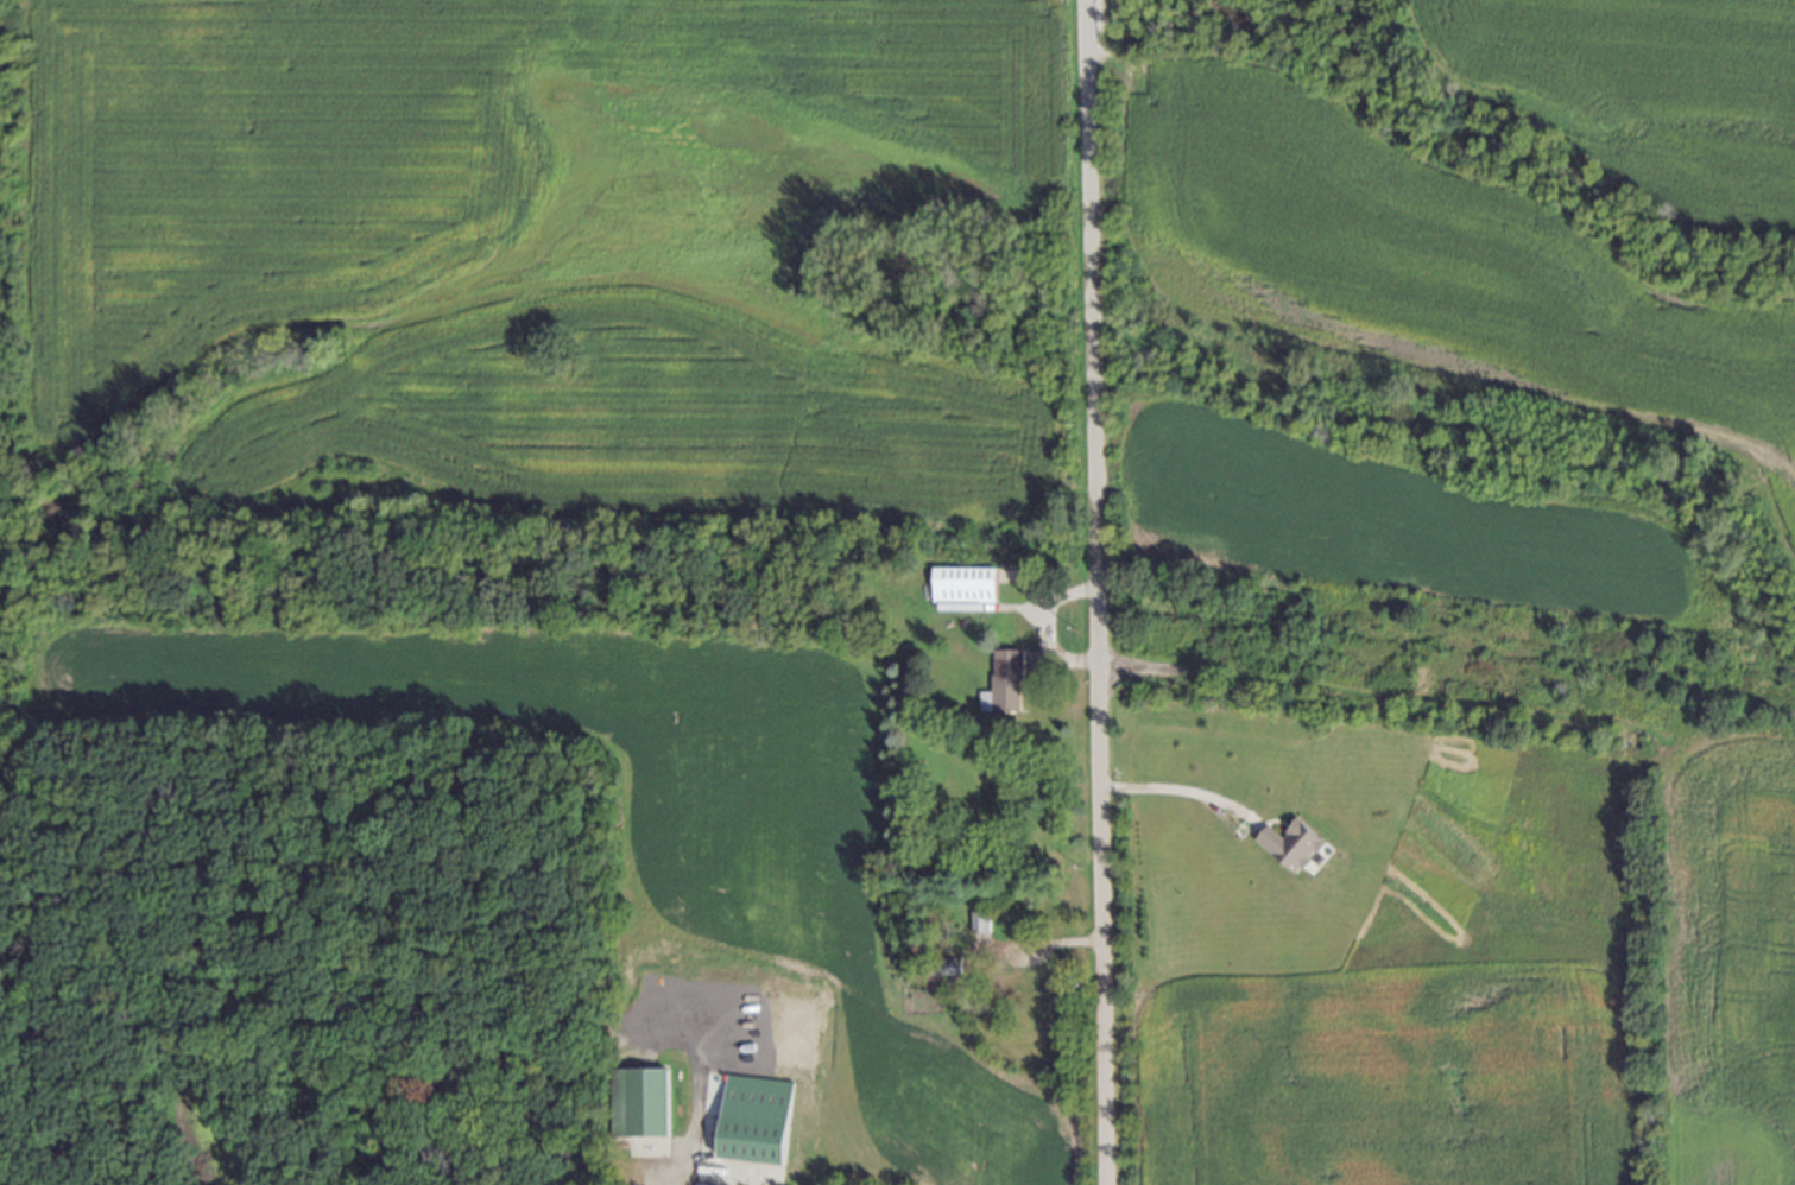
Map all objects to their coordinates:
river: (1180, 18)
river: (1529, 150)
building: (963, 585)
road: (1092, 591)
building: (1006, 682)
road: (1174, 787)
building: (1295, 847)
building: (979, 923)
building: (1028, 964)
building: (943, 965)
building: (637, 1096)
building: (757, 1119)
road: (687, 1132)

